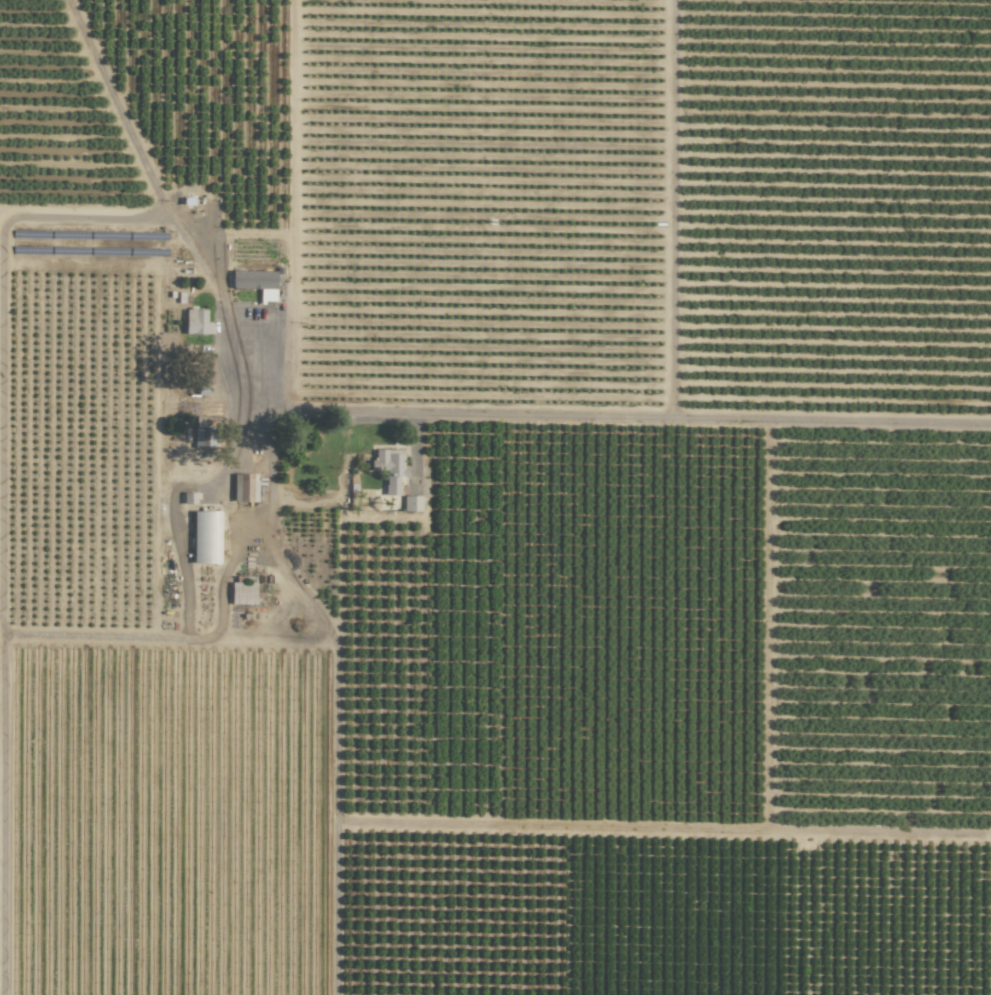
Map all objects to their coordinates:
road: (165, 208)
building: (252, 279)
building: (194, 321)
road: (564, 416)
building: (203, 431)
building: (389, 468)
building: (244, 487)
building: (411, 503)
building: (205, 537)
building: (242, 593)
road: (186, 633)

